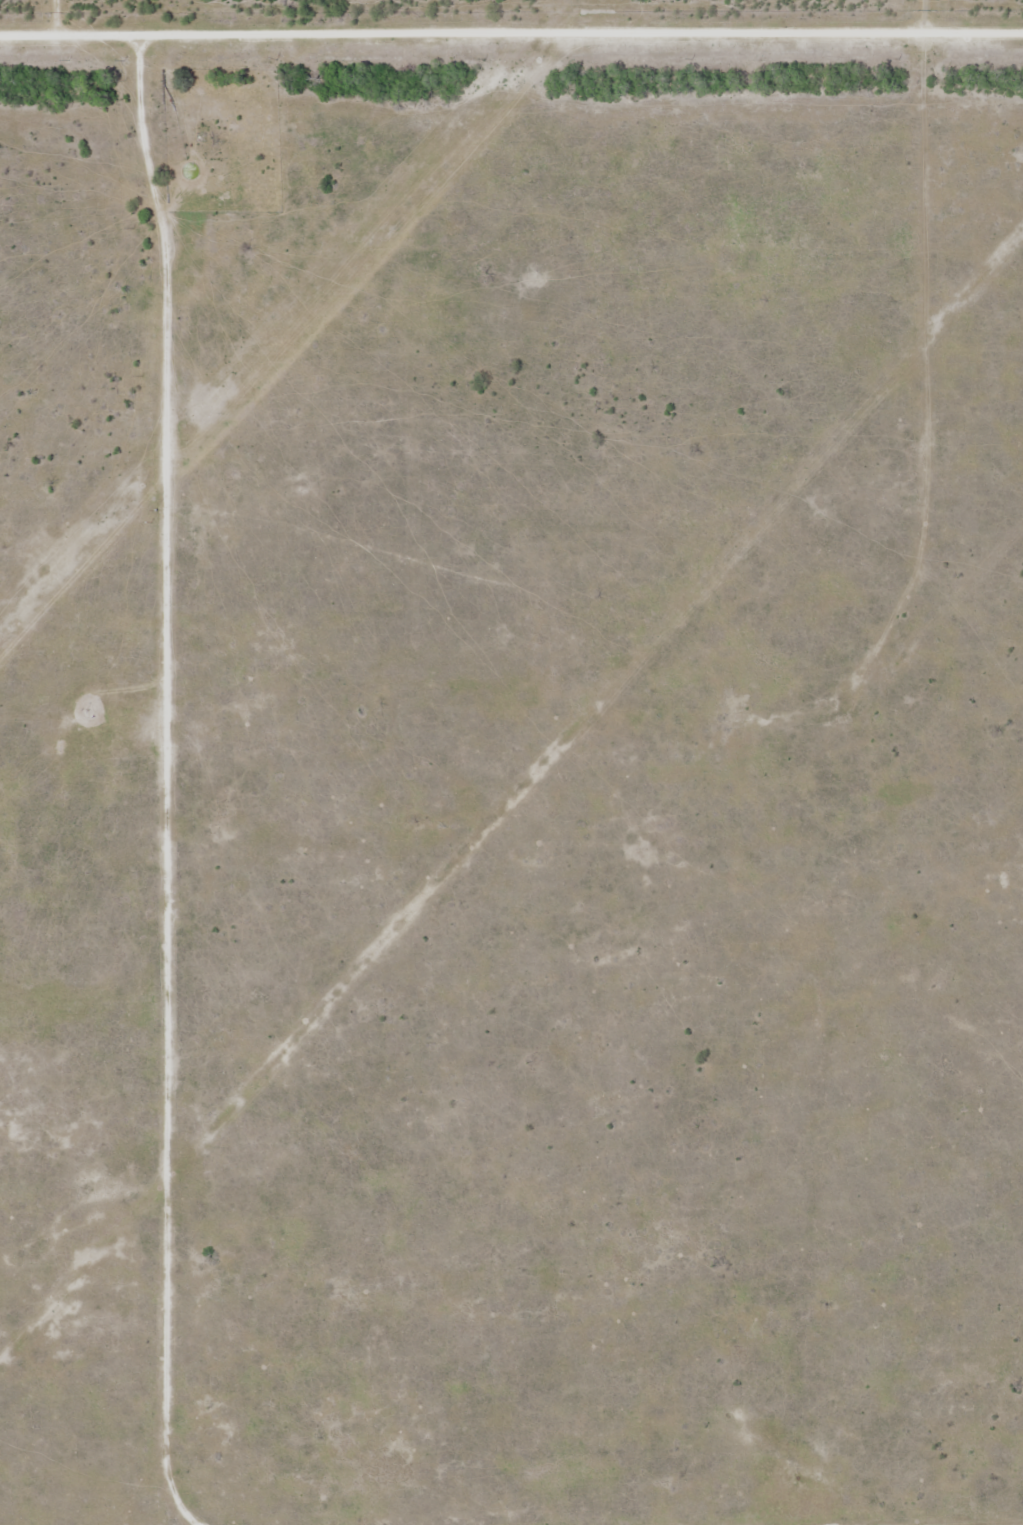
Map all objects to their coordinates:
road: (55, 19)
road: (919, 20)
road: (511, 42)
road: (917, 419)
road: (164, 766)

